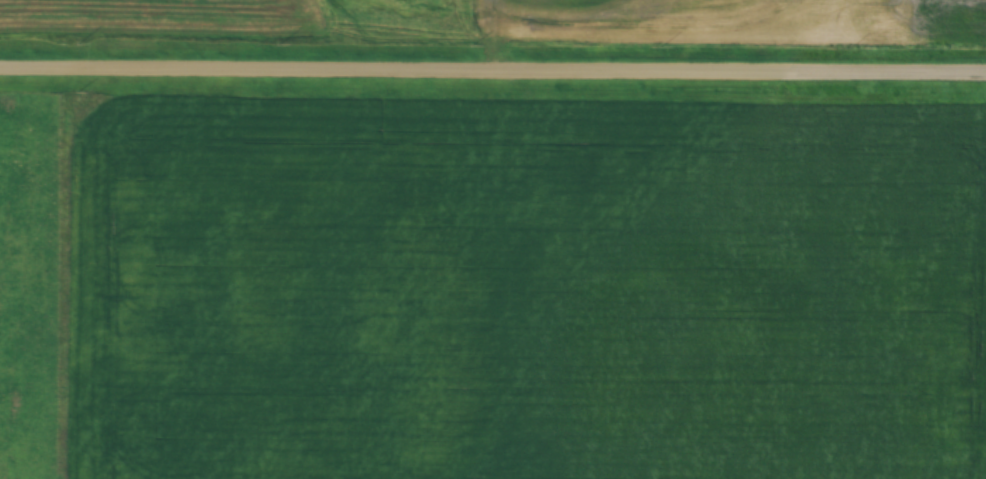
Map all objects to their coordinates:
road: (493, 72)

